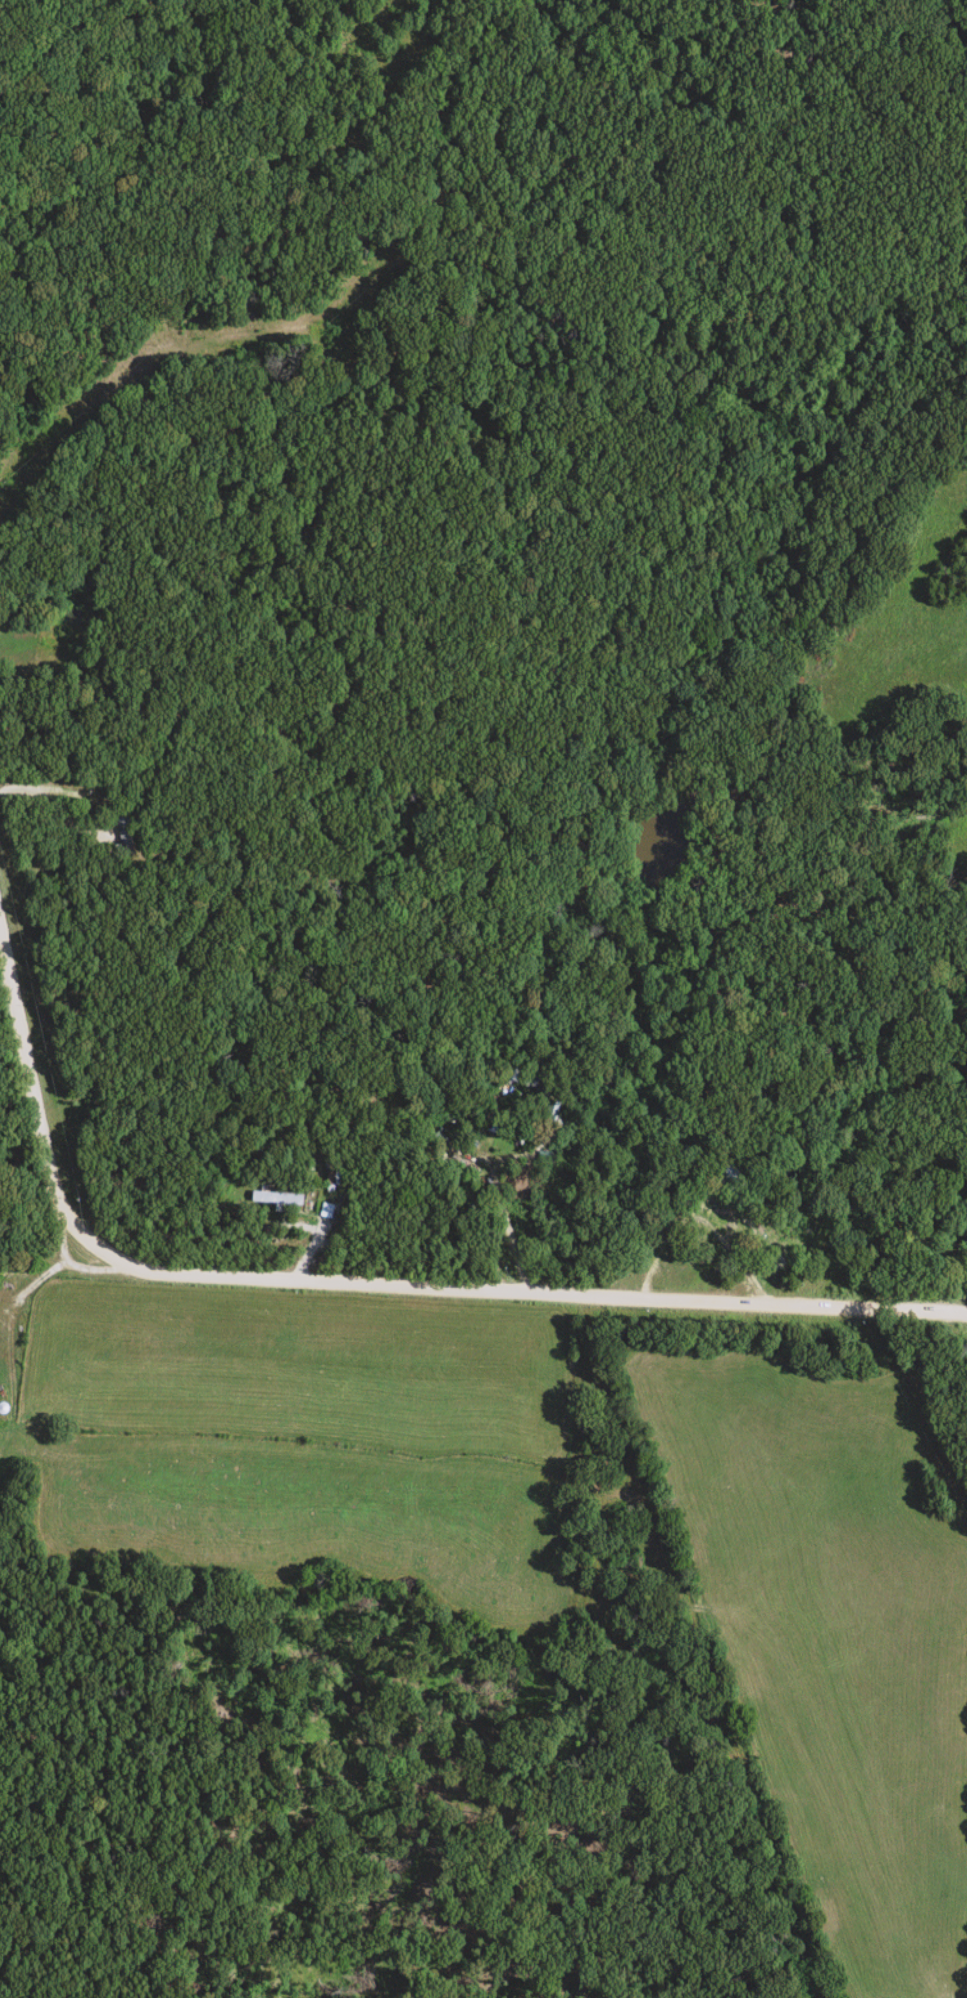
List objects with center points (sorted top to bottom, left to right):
building: (121, 835)
building: (511, 1079)
building: (551, 1126)
building: (272, 1199)
building: (323, 1211)
building: (721, 1216)
road: (400, 1288)
building: (0, 1325)

